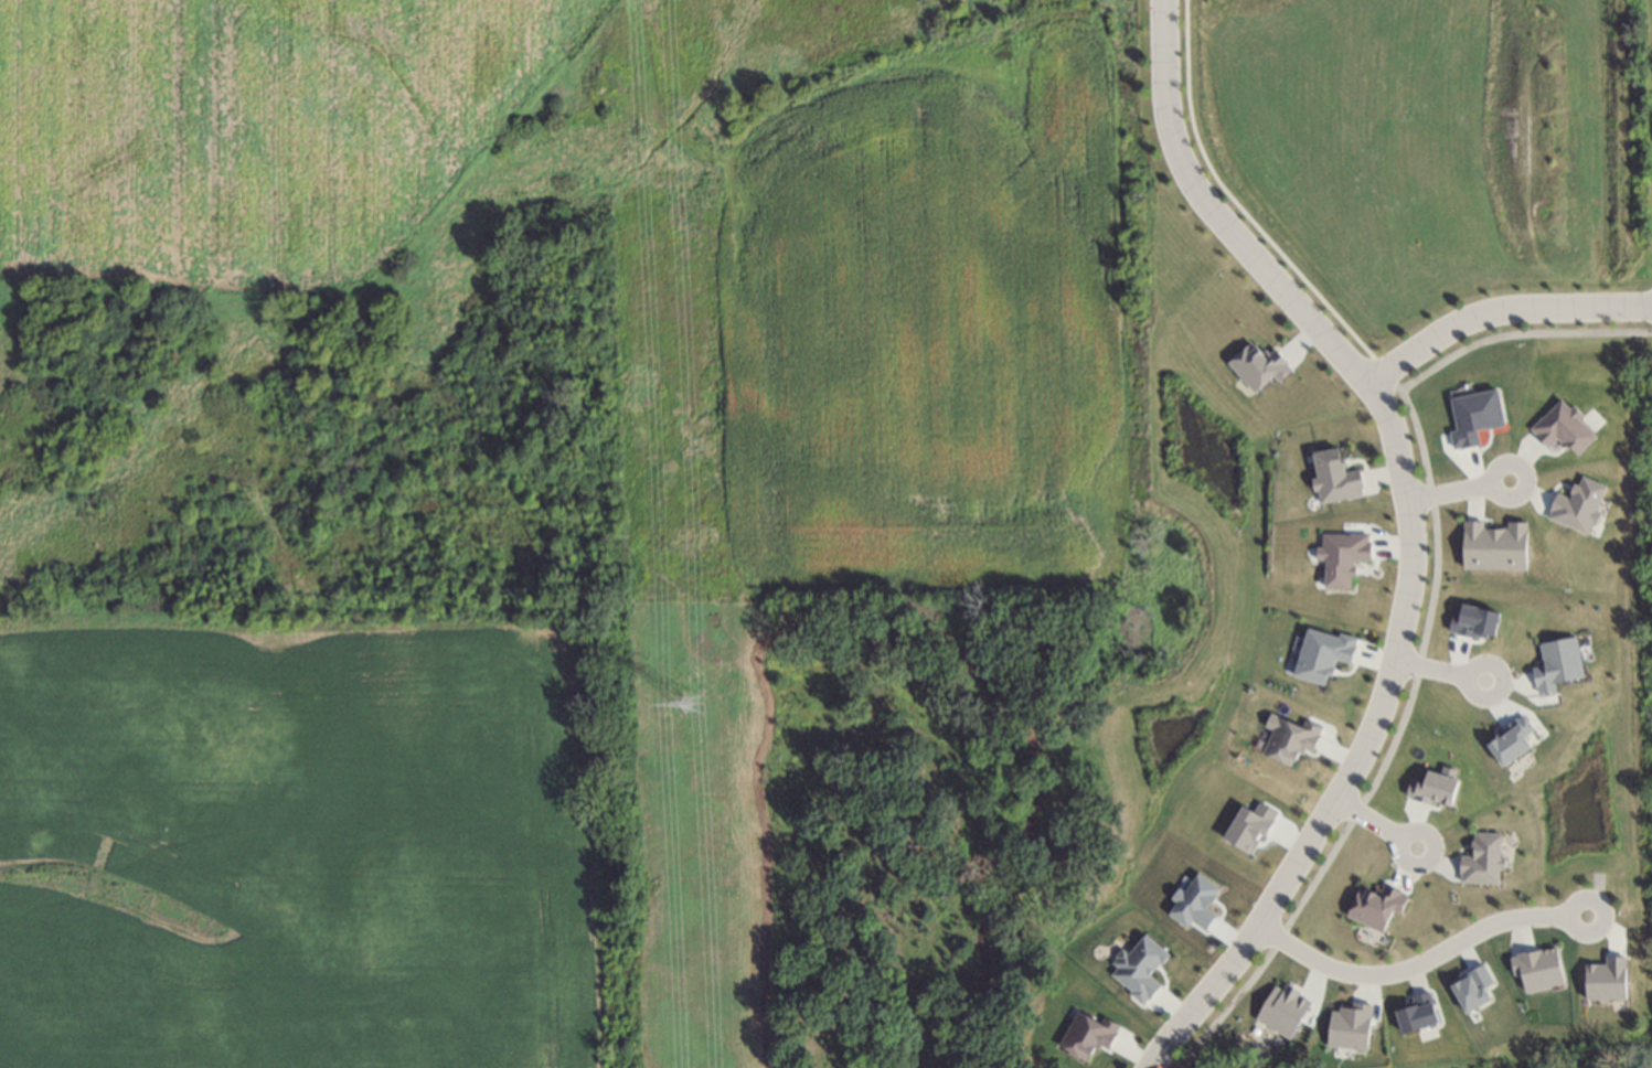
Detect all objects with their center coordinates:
road: (1159, 6)
road: (1160, 6)
road: (1496, 311)
road: (1516, 332)
building: (1258, 366)
building: (1475, 417)
building: (1564, 428)
building: (1332, 476)
road: (1489, 478)
road: (1447, 492)
building: (1578, 504)
road: (1408, 535)
building: (1492, 541)
building: (1343, 556)
building: (1475, 622)
building: (1323, 654)
road: (1478, 664)
building: (1557, 664)
road: (1426, 669)
power tower: (688, 695)
building: (1290, 739)
road: (1389, 740)
building: (1509, 743)
building: (1435, 787)
road: (1363, 818)
building: (1250, 826)
road: (1393, 856)
building: (1482, 859)
building: (1195, 903)
building: (1374, 905)
road: (1565, 912)
road: (1409, 964)
building: (1140, 968)
building: (1539, 968)
building: (1607, 980)
building: (1473, 989)
building: (1283, 1010)
building: (1417, 1015)
building: (1351, 1026)
building: (1089, 1035)

